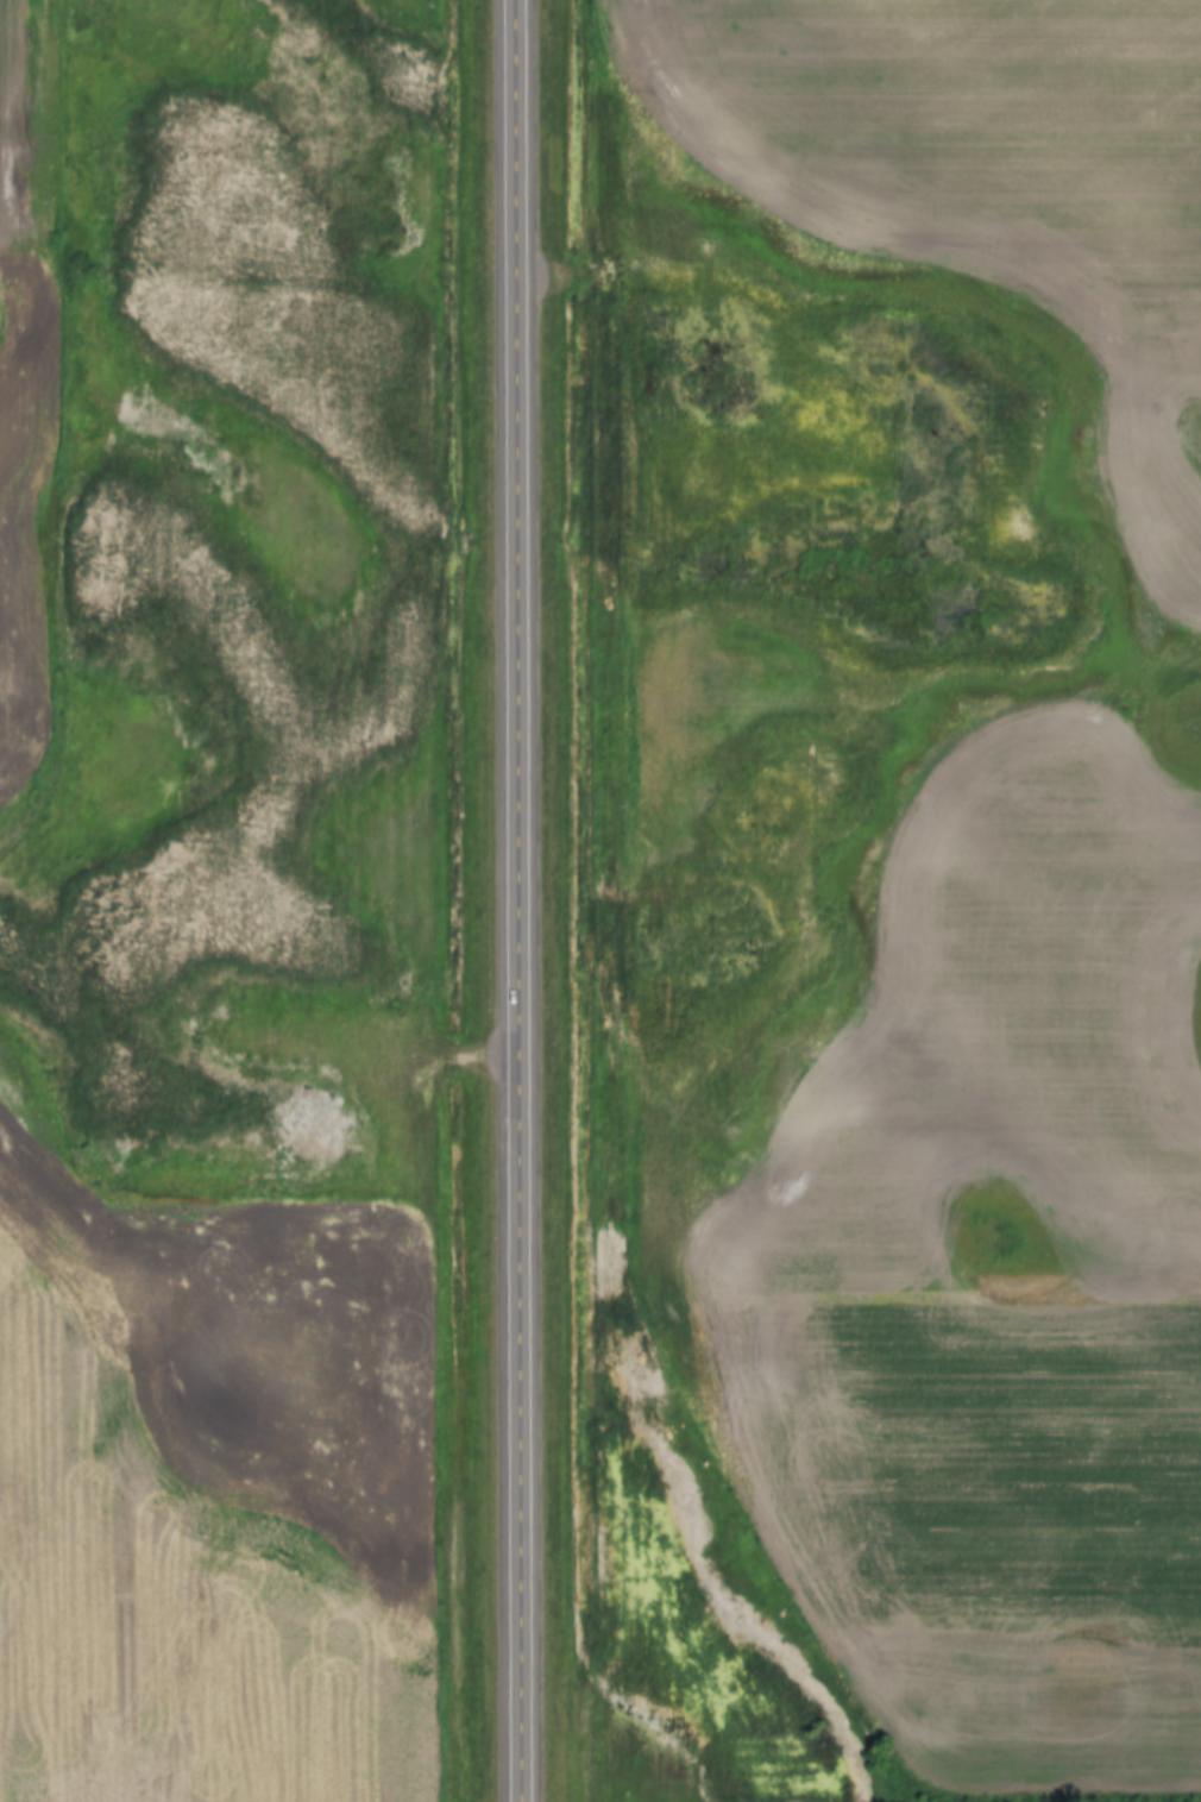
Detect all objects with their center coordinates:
road: (537, 900)

